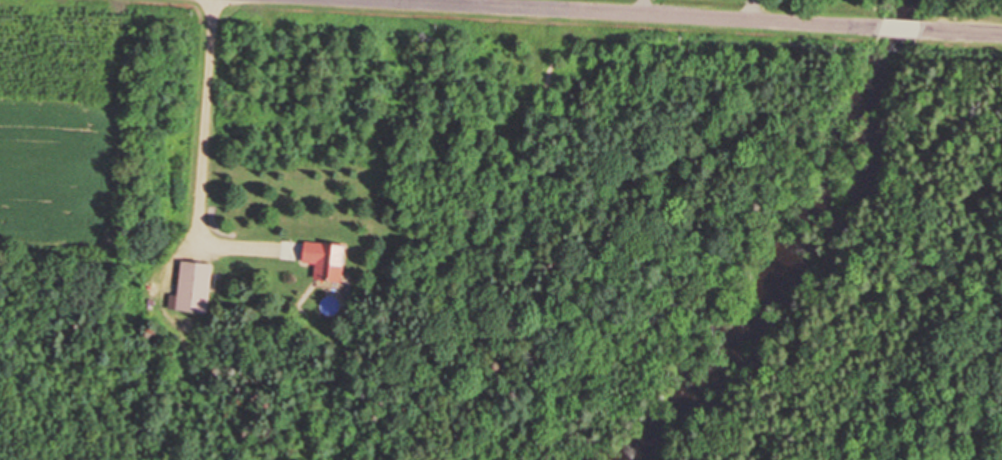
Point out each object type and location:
road: (612, 12)
road: (900, 28)
road: (961, 31)
river: (812, 248)
building: (323, 259)
building: (192, 287)

